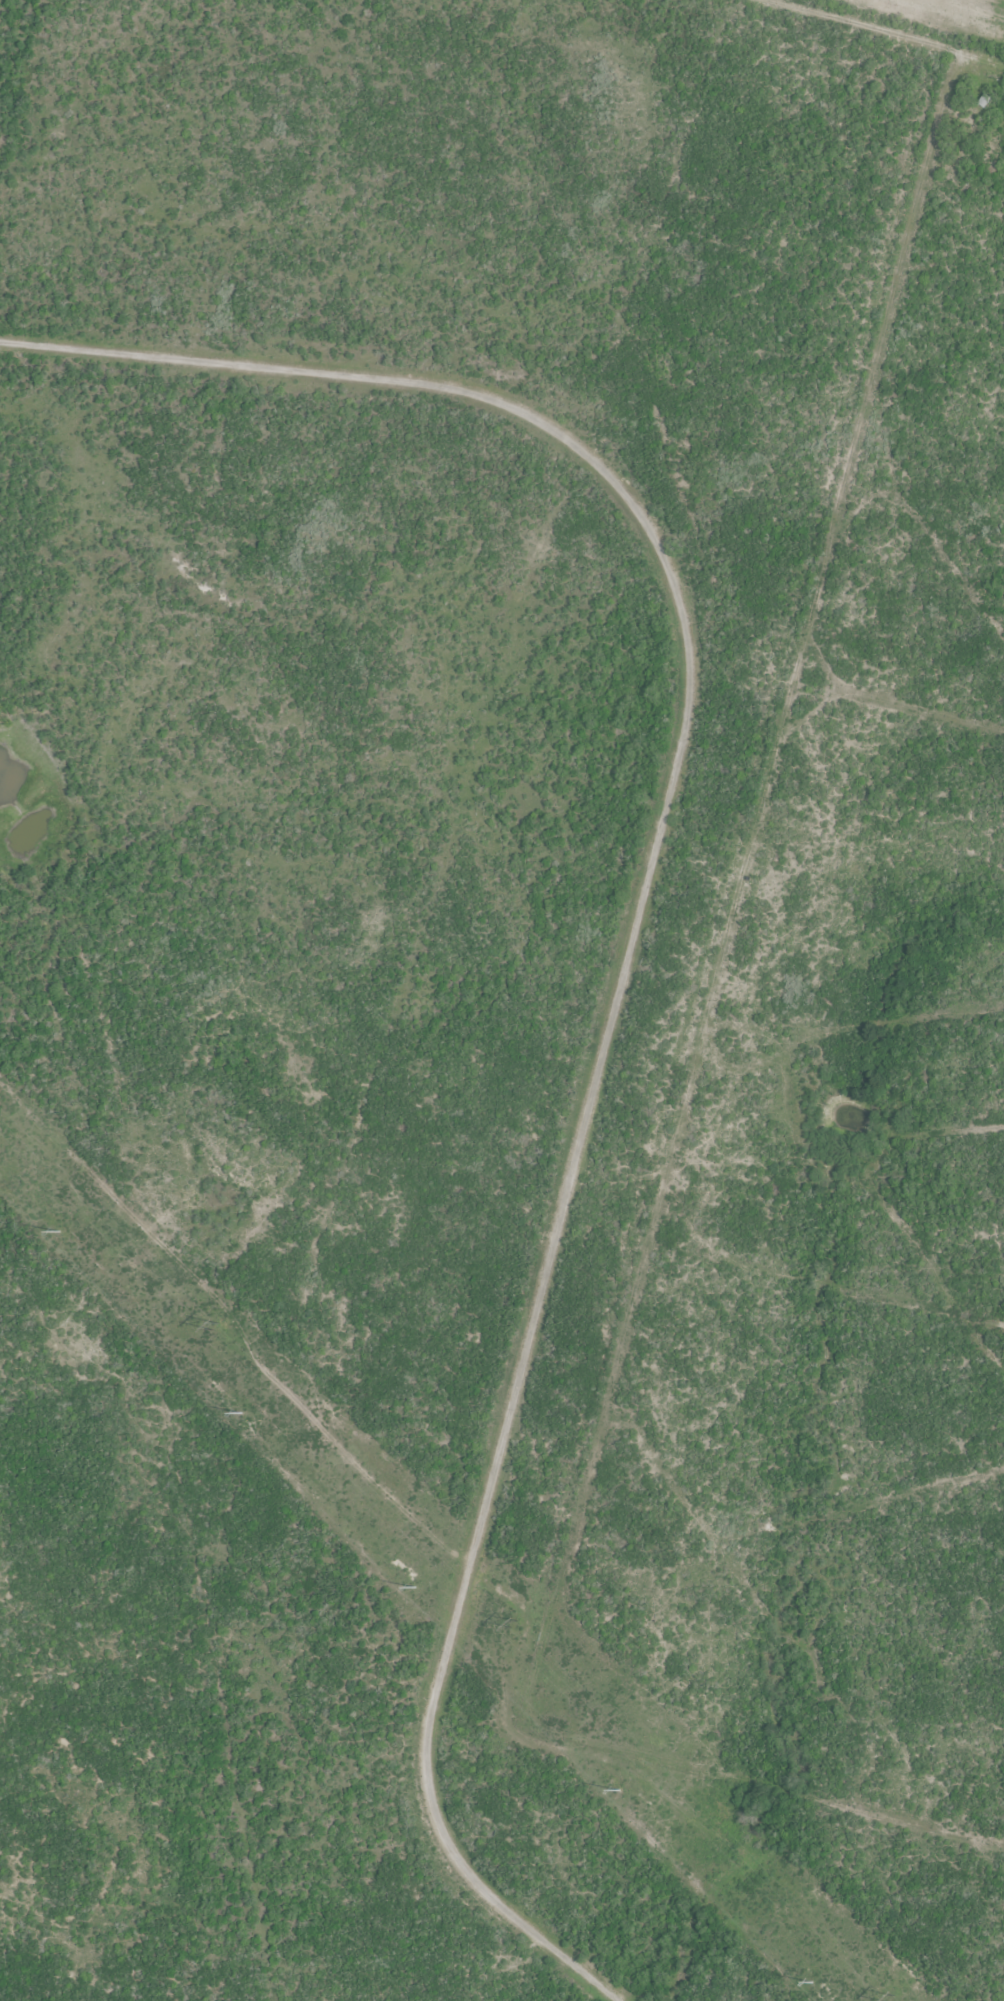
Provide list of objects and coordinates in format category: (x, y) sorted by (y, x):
road: (940, 15)
road: (621, 960)
power tower: (59, 1233)
power tower: (216, 1327)
power tower: (240, 1414)
power tower: (415, 1588)
power tower: (514, 1624)
power tower: (618, 1790)
power tower: (813, 1983)
power tower: (890, 1999)

